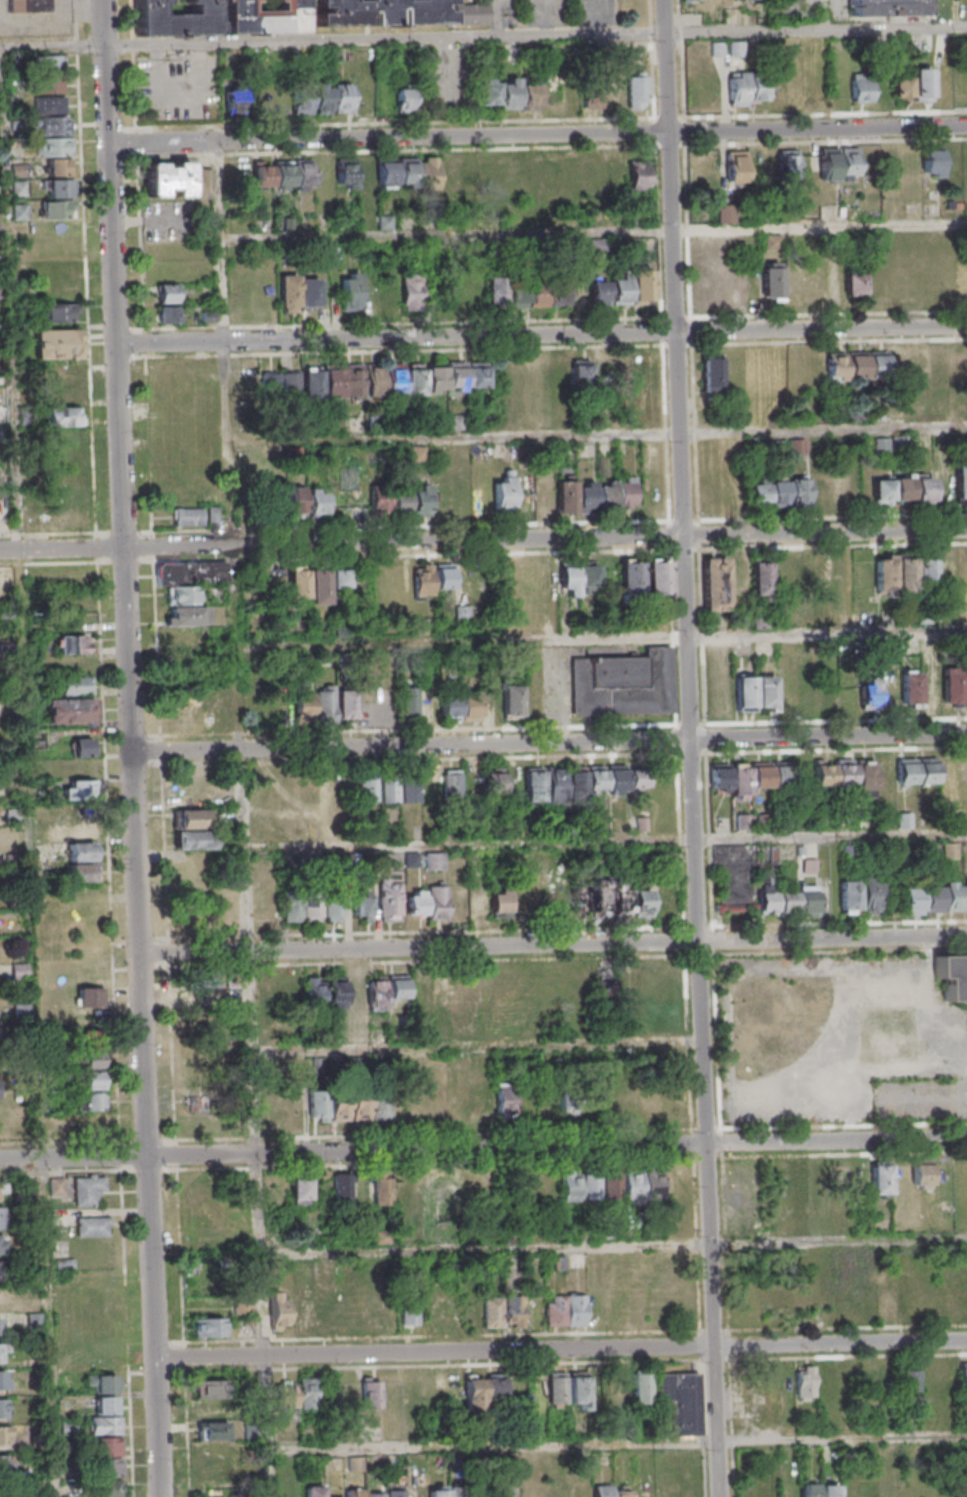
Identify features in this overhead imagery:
building: (690, 0)
building: (31, 6)
building: (886, 9)
building: (381, 11)
parking lot: (550, 12)
building: (470, 14)
building: (263, 17)
building: (173, 19)
road: (536, 34)
road: (52, 45)
building: (49, 84)
building: (914, 85)
building: (746, 87)
building: (860, 87)
building: (603, 89)
building: (636, 90)
building: (508, 94)
building: (343, 97)
building: (323, 98)
building: (404, 99)
building: (301, 100)
building: (235, 102)
road: (582, 118)
building: (52, 125)
road: (817, 126)
road: (388, 136)
road: (810, 141)
building: (53, 146)
road: (432, 148)
building: (787, 160)
building: (932, 161)
building: (827, 163)
building: (848, 163)
building: (57, 166)
building: (735, 166)
building: (490, 169)
road: (110, 171)
building: (395, 172)
building: (282, 174)
building: (638, 175)
building: (167, 178)
building: (203, 184)
building: (58, 187)
building: (57, 209)
building: (725, 213)
road: (593, 231)
road: (89, 266)
building: (55, 270)
building: (771, 280)
building: (792, 281)
building: (832, 284)
building: (641, 285)
building: (620, 287)
building: (349, 291)
building: (411, 291)
building: (544, 292)
building: (298, 293)
road: (11, 299)
building: (167, 303)
building: (59, 312)
road: (631, 317)
road: (821, 327)
road: (396, 337)
road: (223, 342)
building: (57, 343)
road: (638, 344)
building: (866, 365)
building: (958, 365)
building: (580, 370)
building: (621, 370)
building: (710, 371)
building: (63, 374)
building: (432, 377)
building: (323, 382)
building: (455, 421)
road: (600, 435)
building: (62, 457)
building: (247, 463)
building: (961, 481)
building: (72, 487)
building: (842, 487)
building: (904, 489)
building: (758, 491)
building: (778, 491)
building: (799, 491)
building: (503, 493)
building: (628, 493)
building: (821, 493)
building: (584, 495)
building: (420, 499)
building: (306, 500)
building: (388, 500)
building: (187, 516)
road: (816, 516)
building: (63, 520)
road: (531, 523)
road: (824, 530)
road: (50, 534)
road: (542, 536)
road: (201, 545)
road: (128, 546)
road: (687, 548)
road: (156, 561)
road: (669, 563)
road: (684, 571)
building: (911, 571)
building: (822, 573)
building: (443, 575)
building: (658, 576)
building: (339, 577)
building: (630, 577)
road: (699, 577)
building: (761, 577)
building: (187, 579)
building: (577, 579)
building: (421, 580)
building: (715, 583)
building: (308, 584)
building: (421, 624)
road: (604, 637)
building: (187, 638)
building: (71, 644)
building: (718, 678)
building: (623, 683)
building: (76, 684)
building: (952, 686)
building: (965, 686)
building: (911, 688)
building: (931, 688)
building: (746, 692)
building: (766, 692)
building: (869, 694)
building: (891, 696)
building: (510, 700)
building: (406, 702)
building: (345, 703)
building: (315, 705)
building: (459, 705)
building: (70, 709)
road: (730, 722)
road: (829, 734)
road: (410, 744)
building: (81, 746)
road: (737, 751)
building: (916, 770)
building: (962, 772)
building: (834, 773)
building: (750, 776)
building: (865, 776)
building: (595, 780)
building: (637, 780)
building: (491, 782)
building: (452, 783)
building: (554, 784)
building: (533, 785)
building: (430, 786)
building: (367, 787)
building: (79, 788)
building: (409, 788)
building: (389, 790)
building: (192, 818)
building: (905, 820)
building: (743, 821)
building: (82, 829)
building: (10, 836)
building: (193, 839)
road: (607, 840)
building: (81, 851)
road: (134, 852)
building: (433, 860)
building: (809, 864)
building: (83, 881)
building: (748, 881)
building: (870, 894)
building: (849, 896)
building: (934, 897)
building: (580, 898)
building: (622, 900)
building: (388, 901)
building: (435, 901)
building: (496, 901)
building: (601, 901)
building: (799, 901)
building: (642, 902)
building: (415, 903)
building: (361, 904)
building: (322, 908)
building: (290, 909)
road: (779, 923)
road: (833, 938)
road: (419, 947)
road: (786, 952)
building: (953, 978)
building: (205, 979)
building: (233, 980)
building: (602, 982)
building: (385, 989)
building: (327, 991)
building: (268, 994)
building: (460, 994)
building: (90, 996)
road: (253, 1020)
building: (199, 1023)
road: (478, 1045)
building: (91, 1053)
building: (93, 1080)
building: (505, 1100)
building: (620, 1100)
building: (91, 1101)
building: (443, 1101)
building: (422, 1103)
building: (200, 1104)
building: (555, 1104)
building: (347, 1106)
road: (843, 1124)
building: (88, 1126)
road: (837, 1139)
road: (353, 1150)
road: (829, 1153)
building: (921, 1173)
building: (840, 1174)
building: (880, 1178)
building: (57, 1185)
building: (570, 1185)
building: (622, 1185)
building: (445, 1186)
building: (338, 1188)
building: (87, 1189)
building: (300, 1190)
building: (382, 1190)
building: (2, 1217)
road: (148, 1225)
building: (92, 1226)
road: (613, 1243)
building: (1, 1244)
building: (3, 1271)
building: (3, 1298)
building: (97, 1300)
building: (346, 1306)
building: (278, 1310)
building: (564, 1310)
building: (502, 1311)
building: (409, 1312)
building: (305, 1317)
road: (713, 1319)
building: (0, 1325)
road: (878, 1326)
road: (51, 1327)
building: (208, 1327)
road: (840, 1342)
building: (3, 1349)
road: (489, 1350)
road: (886, 1355)
road: (209, 1357)
building: (964, 1377)
building: (4, 1379)
building: (908, 1380)
building: (101, 1382)
building: (805, 1382)
building: (640, 1387)
building: (556, 1388)
building: (578, 1389)
building: (620, 1390)
building: (481, 1391)
building: (308, 1392)
building: (371, 1393)
building: (286, 1394)
building: (212, 1399)
building: (680, 1402)
building: (106, 1404)
building: (3, 1408)
building: (105, 1425)
building: (212, 1430)
building: (4, 1435)
road: (617, 1441)
building: (5, 1465)
building: (103, 1468)
building: (809, 1489)
building: (287, 1490)
building: (602, 1490)
building: (623, 1490)
building: (829, 1490)
building: (313, 1491)
building: (354, 1492)
building: (476, 1492)
building: (500, 1492)
building: (386, 1493)

